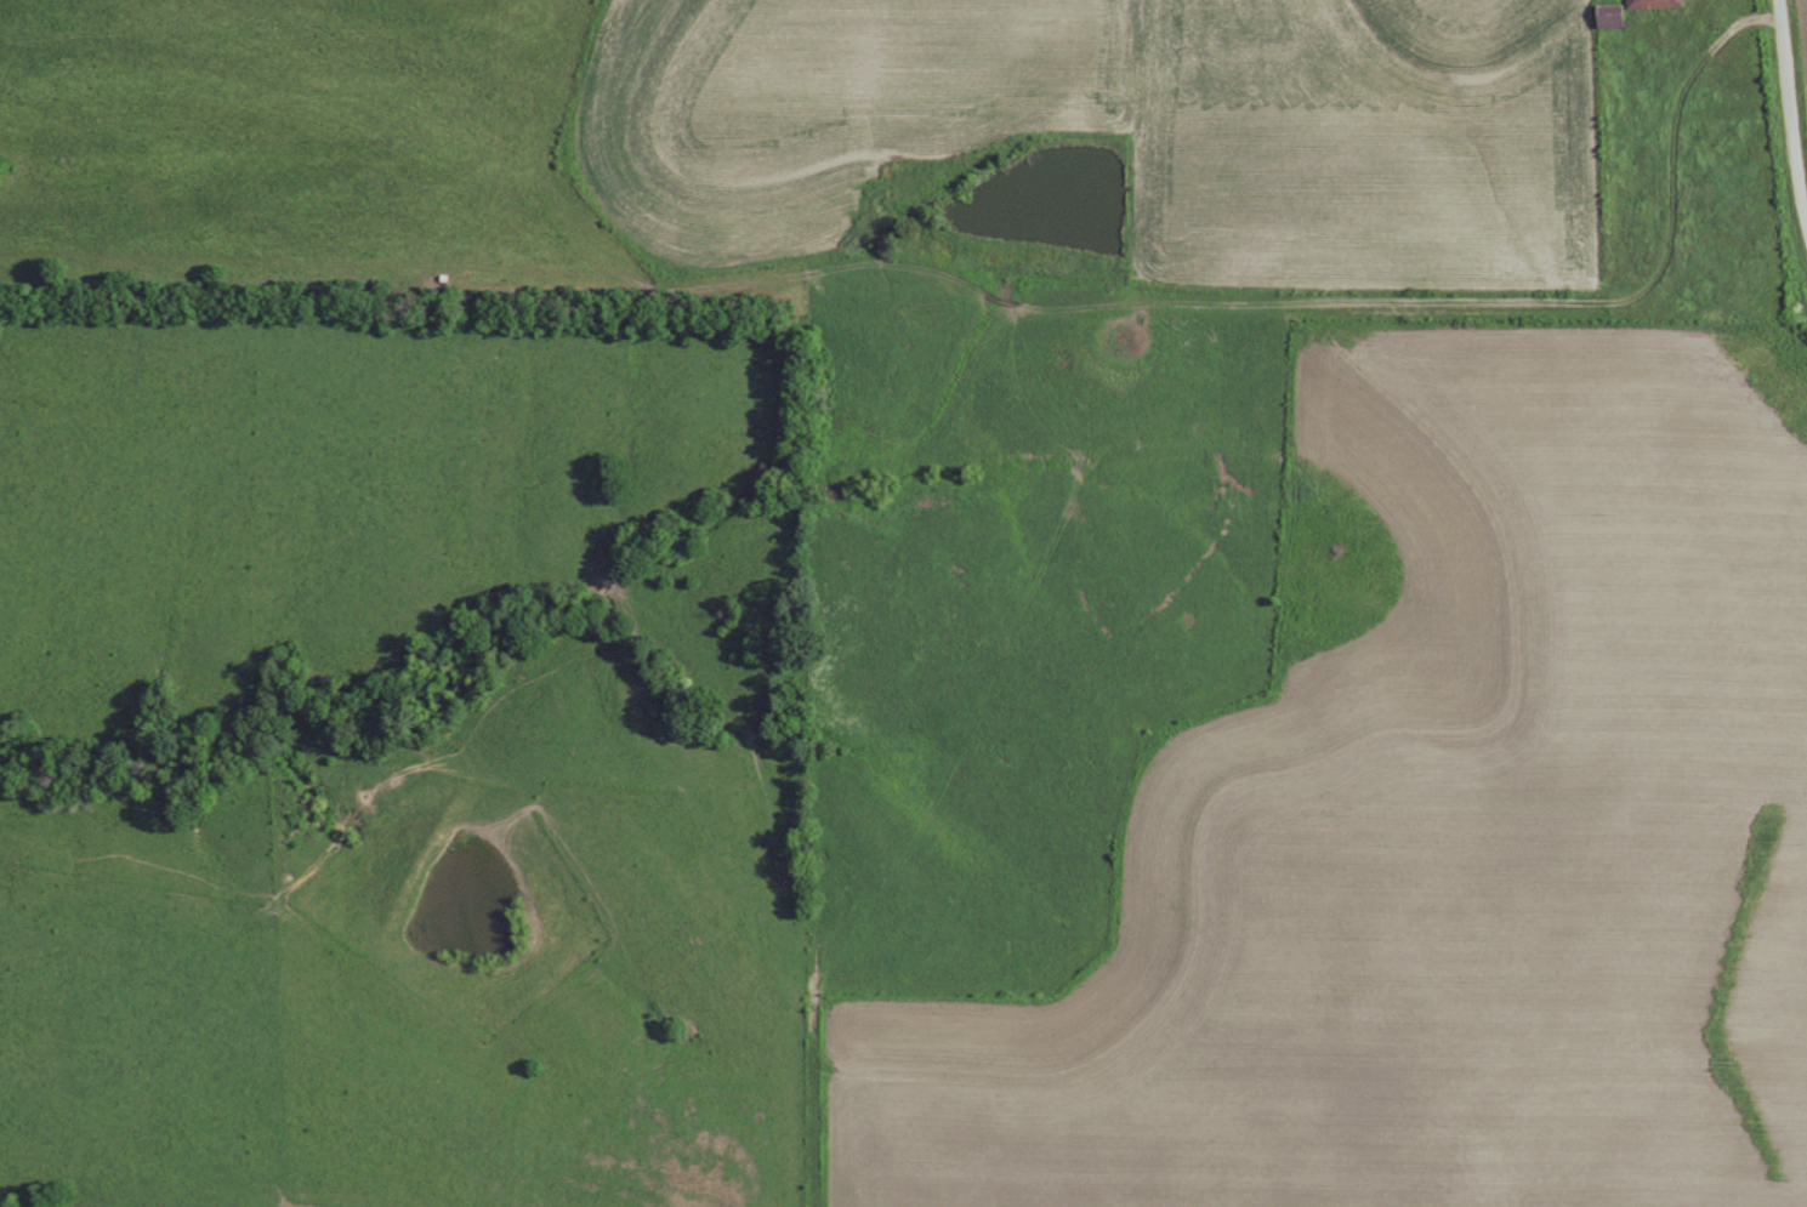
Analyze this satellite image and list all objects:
building: (1650, 2)
building: (1607, 15)
road: (1792, 118)

